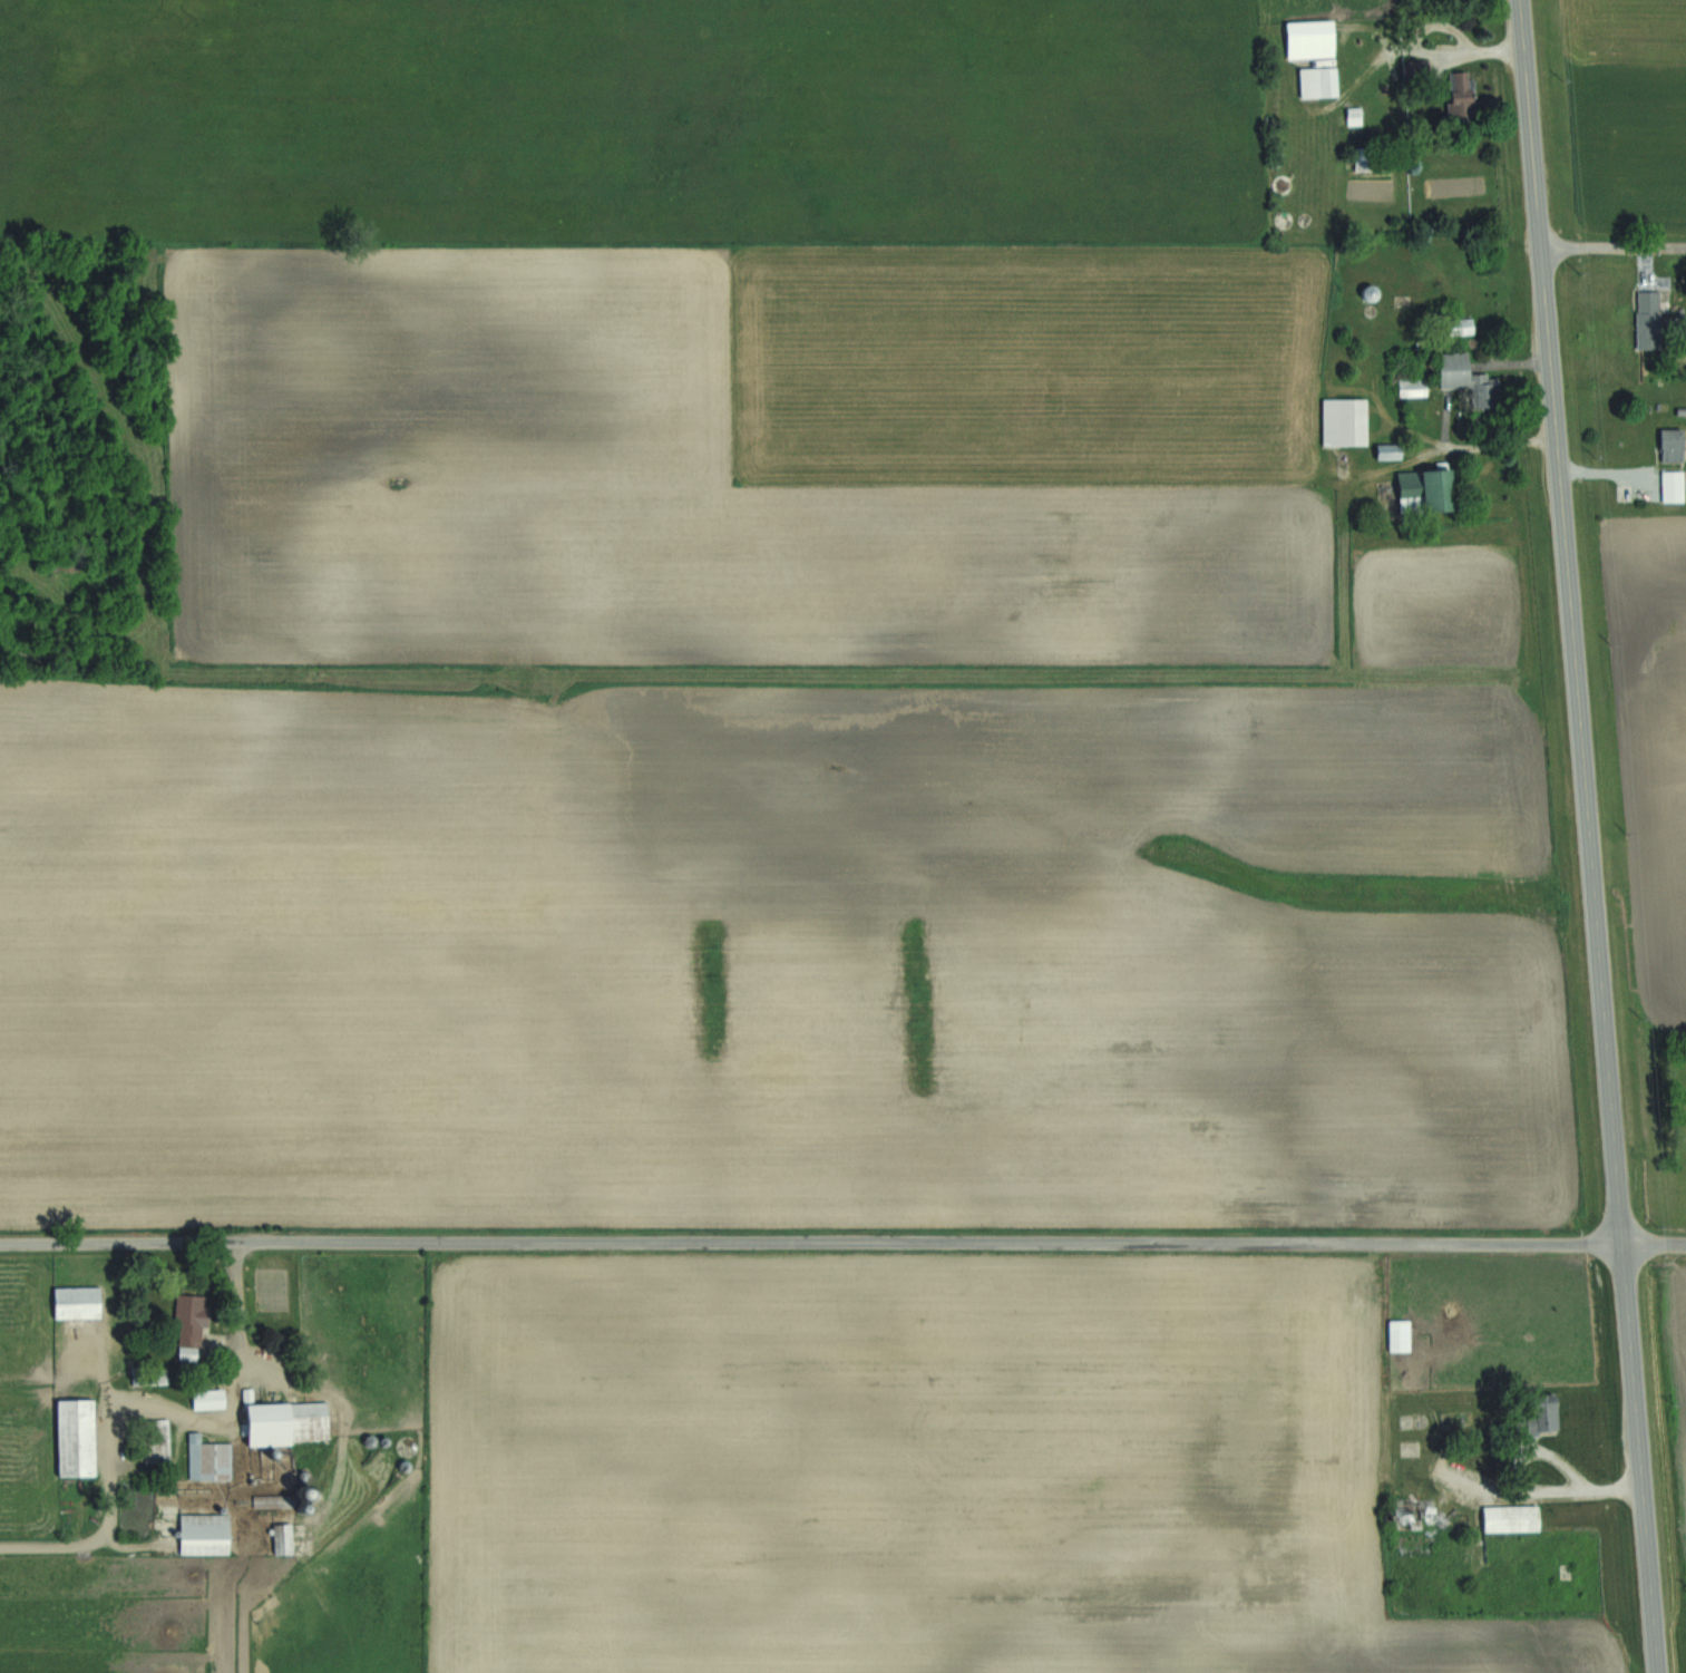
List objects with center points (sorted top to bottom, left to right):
building: (1310, 39)
road: (1419, 48)
building: (1416, 68)
building: (1318, 82)
building: (1464, 91)
building: (1354, 116)
building: (1284, 184)
building: (1284, 220)
road: (1615, 249)
road: (1649, 263)
building: (1656, 323)
building: (1458, 325)
road: (1514, 362)
building: (1468, 379)
building: (1411, 387)
building: (1344, 421)
building: (1673, 444)
road: (1453, 445)
building: (1390, 450)
road: (1425, 455)
road: (1606, 474)
building: (1673, 486)
building: (1424, 490)
road: (1590, 836)
road: (842, 1244)
building: (78, 1302)
building: (192, 1322)
building: (1400, 1335)
building: (149, 1377)
building: (208, 1399)
building: (1539, 1413)
building: (282, 1421)
road: (213, 1423)
building: (76, 1438)
building: (153, 1441)
road: (1529, 1453)
building: (208, 1458)
building: (1412, 1515)
building: (1511, 1518)
building: (205, 1524)
building: (282, 1539)
building: (205, 1545)
road: (67, 1546)

